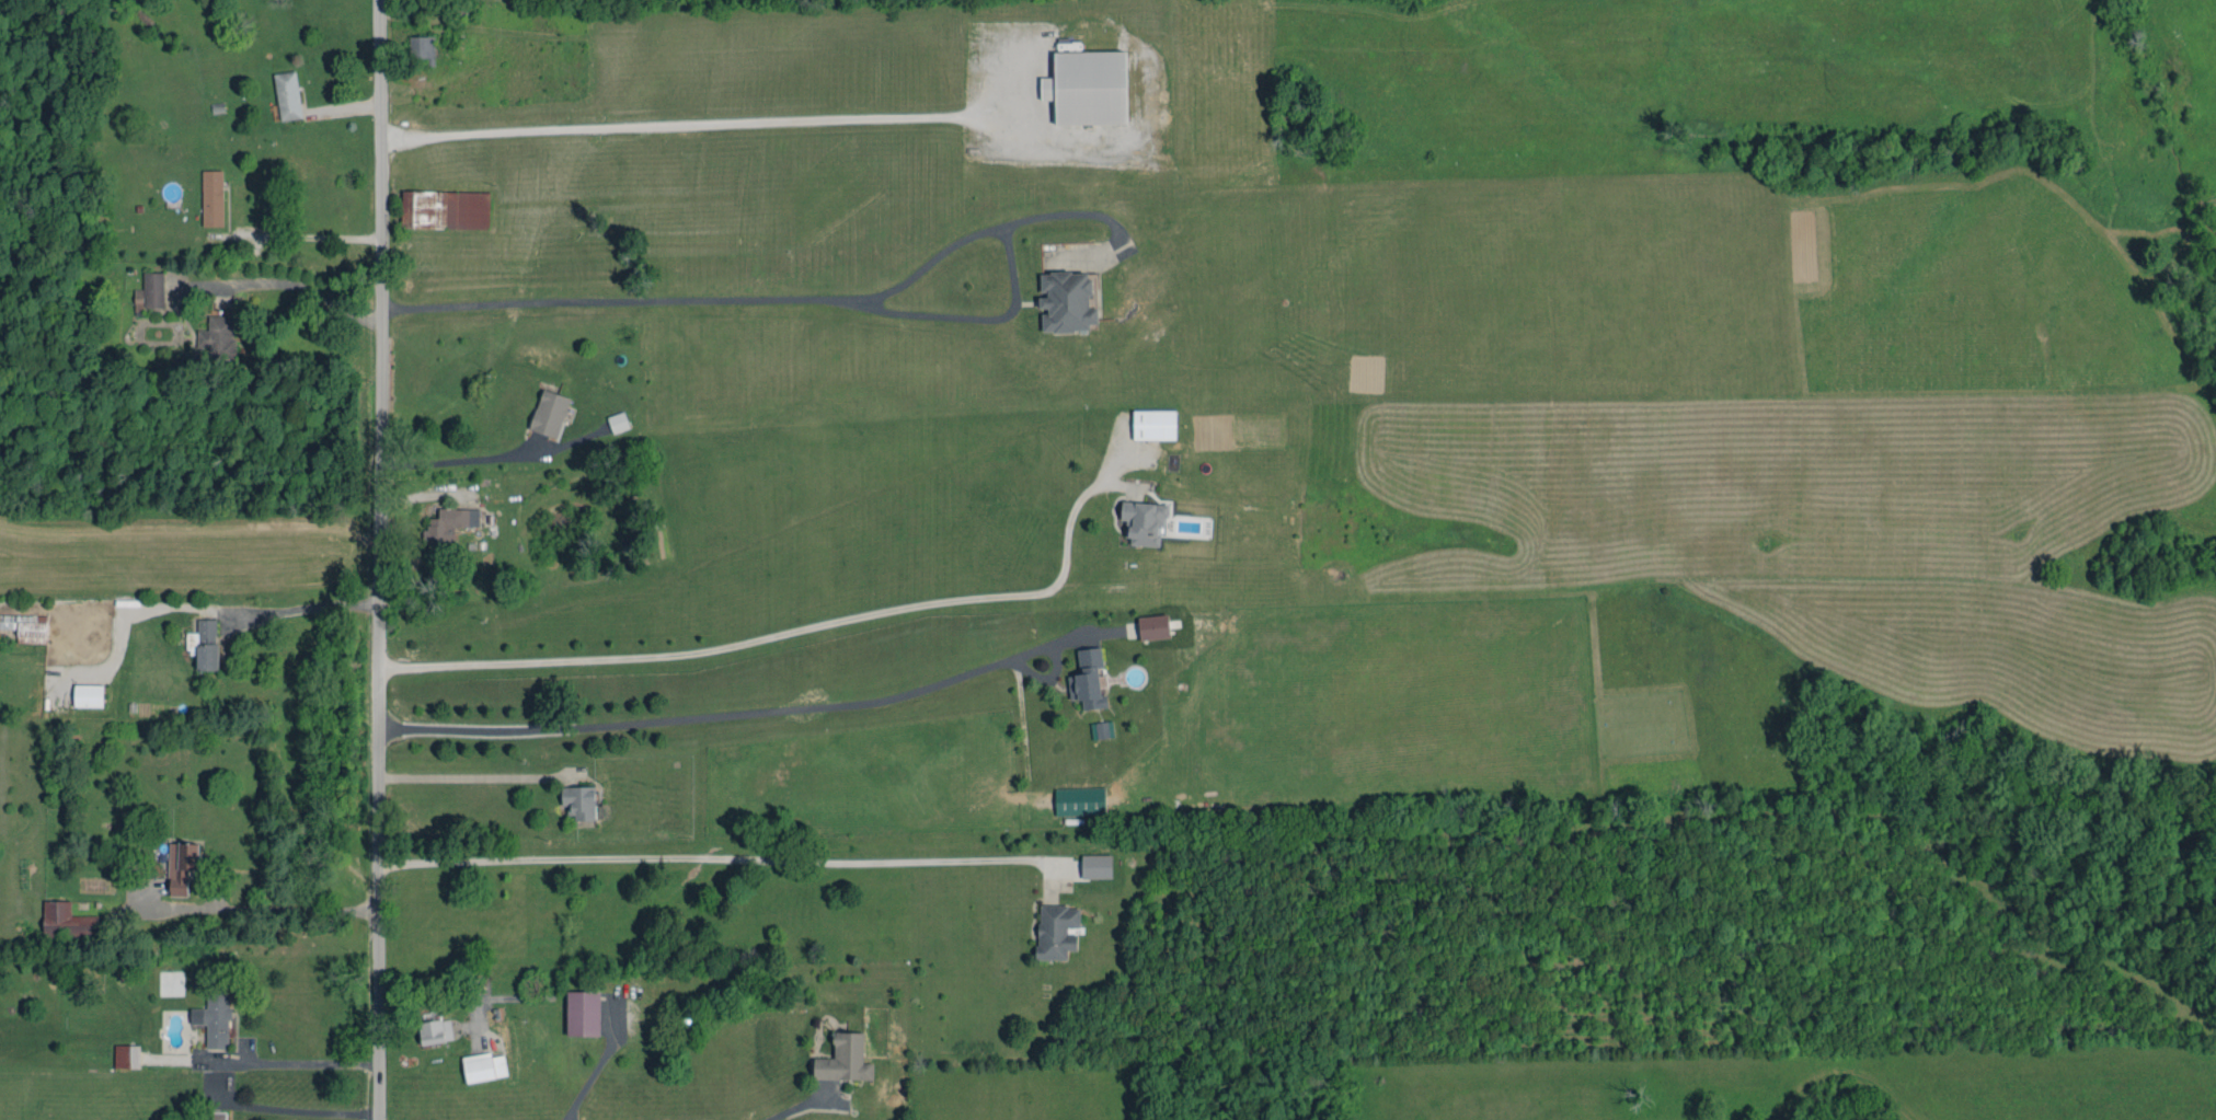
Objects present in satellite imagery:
building: (422, 48)
building: (1088, 88)
building: (287, 95)
road: (716, 126)
building: (213, 198)
building: (445, 209)
road: (320, 238)
building: (150, 291)
road: (820, 299)
building: (1067, 301)
building: (218, 336)
building: (549, 413)
building: (618, 422)
building: (1153, 425)
road: (444, 460)
road: (1075, 505)
building: (1144, 522)
building: (448, 526)
road: (376, 559)
road: (1019, 598)
road: (319, 607)
building: (26, 627)
building: (1153, 627)
building: (204, 644)
road: (665, 659)
building: (1089, 680)
building: (89, 695)
road: (717, 717)
road: (460, 781)
building: (1079, 801)
building: (579, 803)
road: (714, 863)
building: (1096, 866)
building: (181, 867)
road: (274, 910)
building: (67, 921)
building: (1056, 931)
road: (450, 997)
building: (583, 1013)
building: (214, 1020)
building: (435, 1031)
building: (126, 1057)
building: (845, 1060)
road: (301, 1063)
building: (483, 1066)
road: (295, 1107)
road: (786, 1110)
building: (216, 1116)

